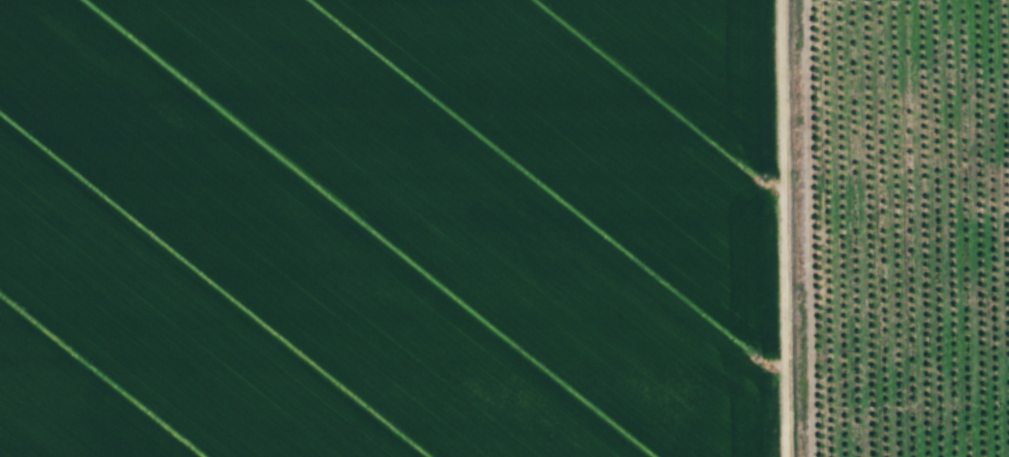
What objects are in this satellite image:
road: (781, 228)

